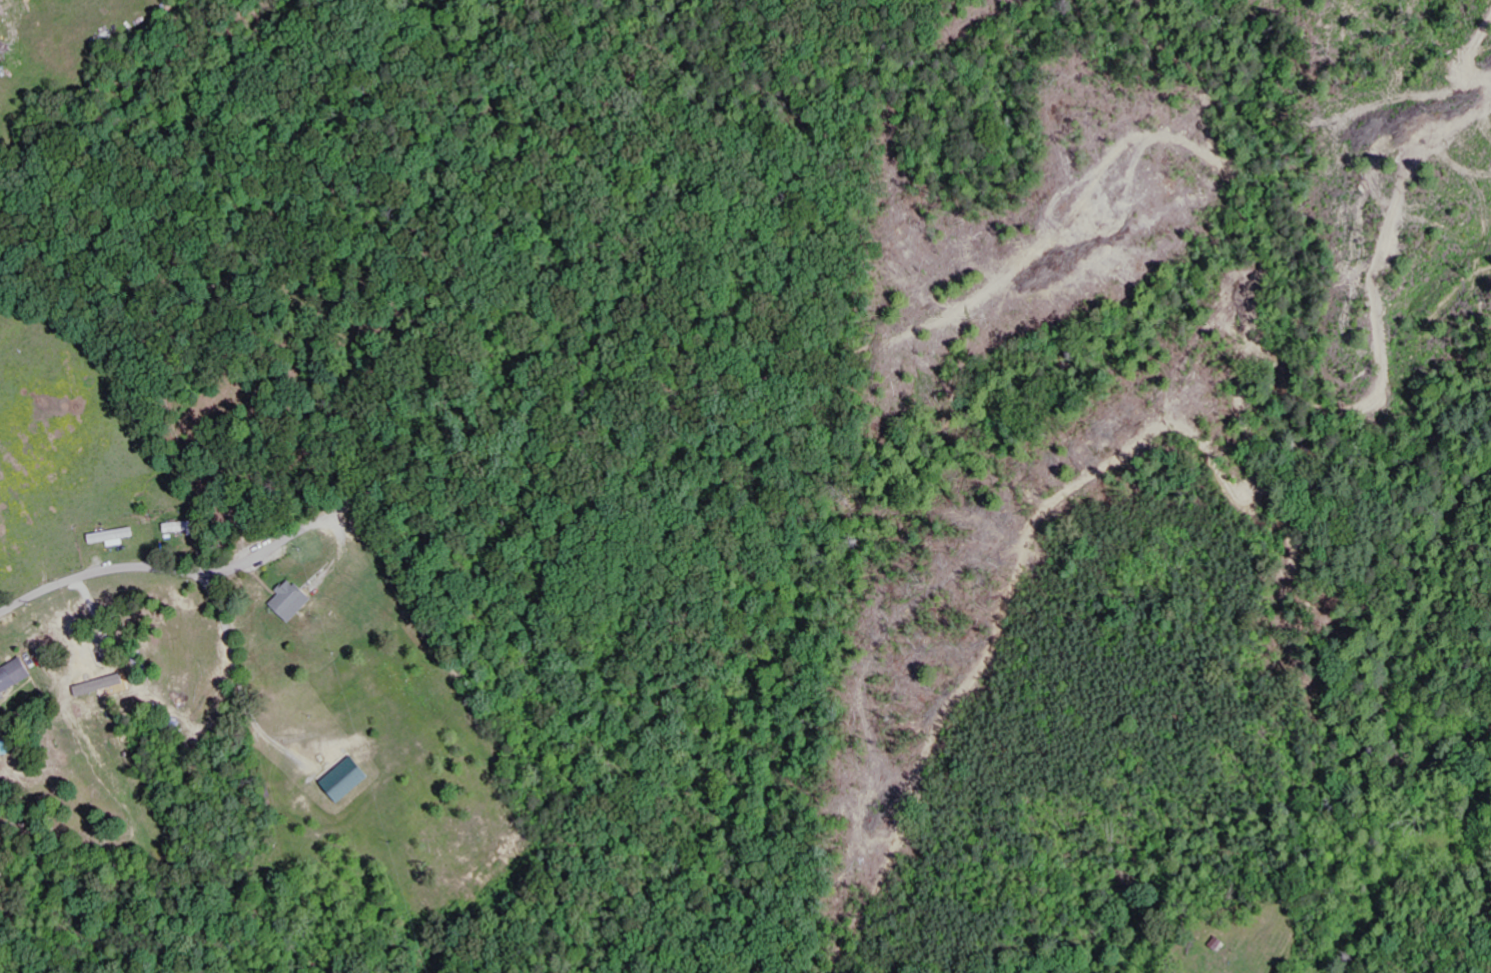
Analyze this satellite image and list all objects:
building: (186, 527)
building: (115, 537)
road: (118, 568)
building: (295, 601)
building: (17, 677)
building: (103, 685)
building: (349, 780)

